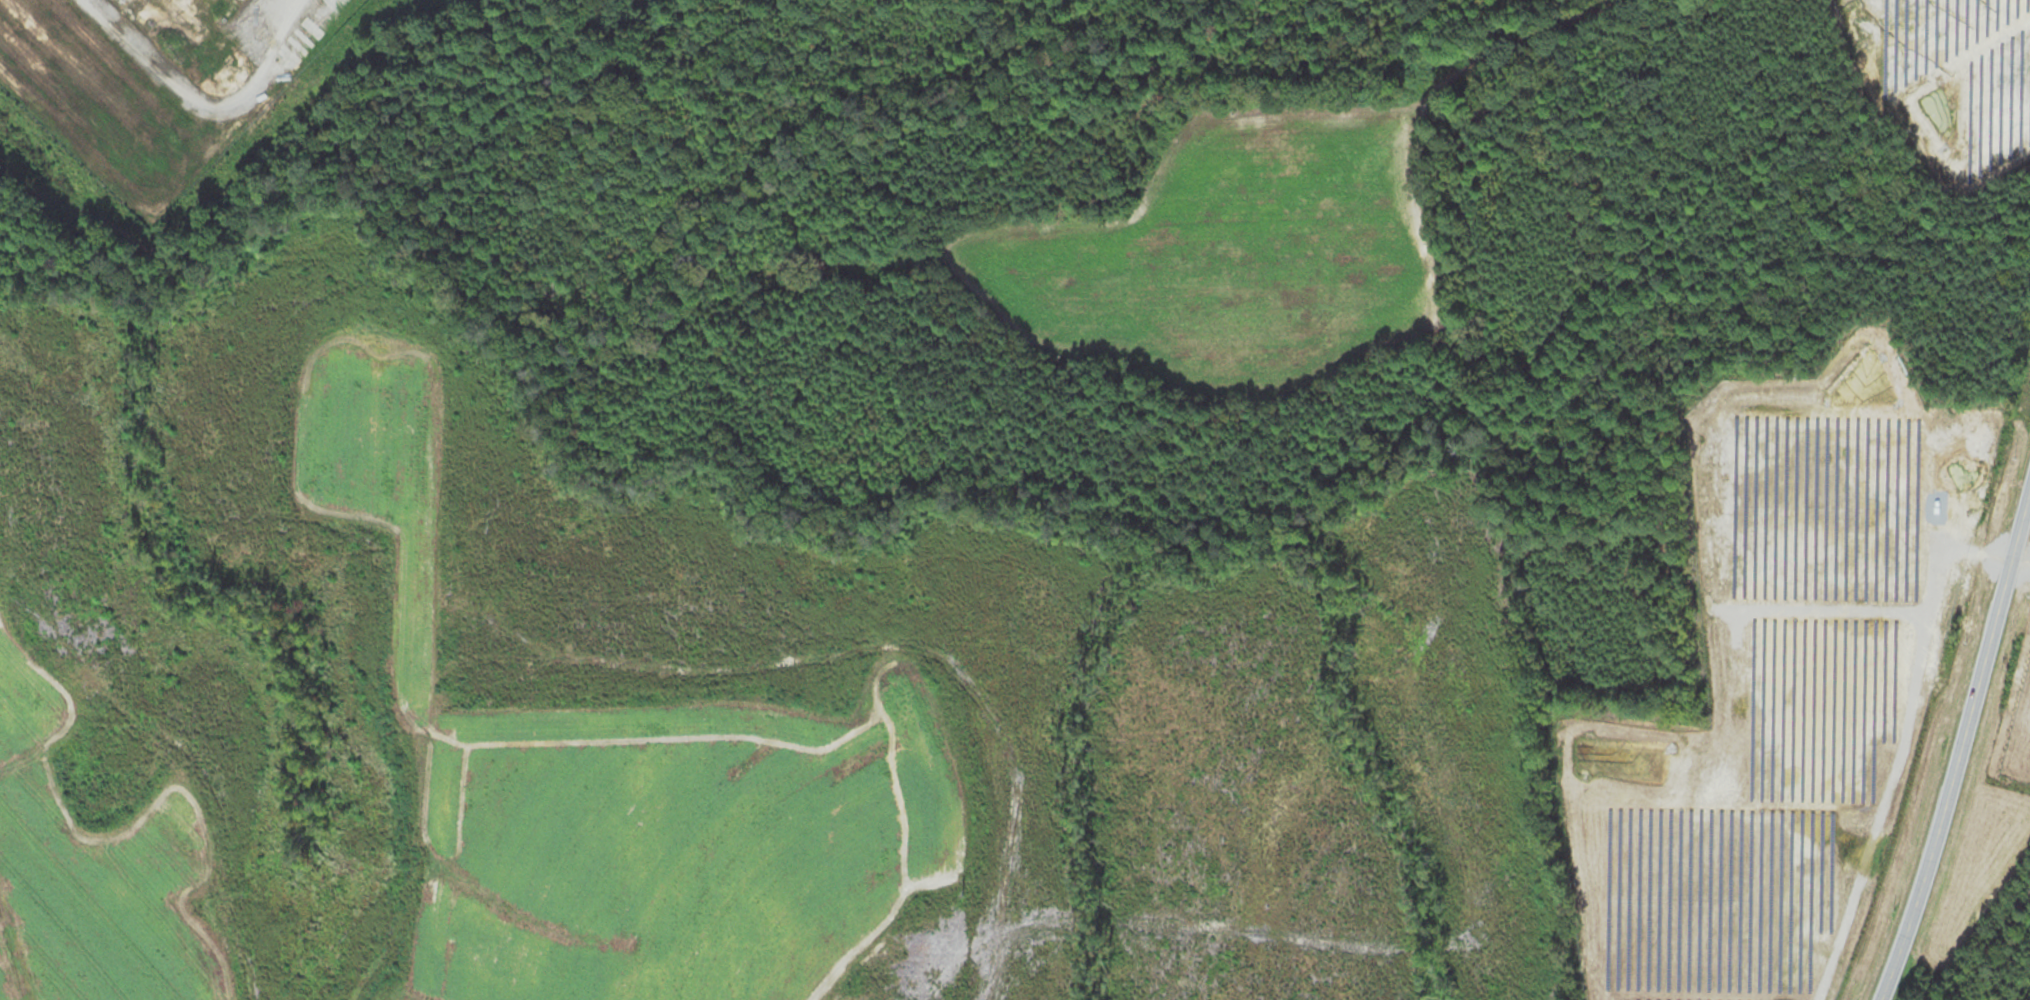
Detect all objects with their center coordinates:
road: (2022, 558)
road: (1960, 751)

